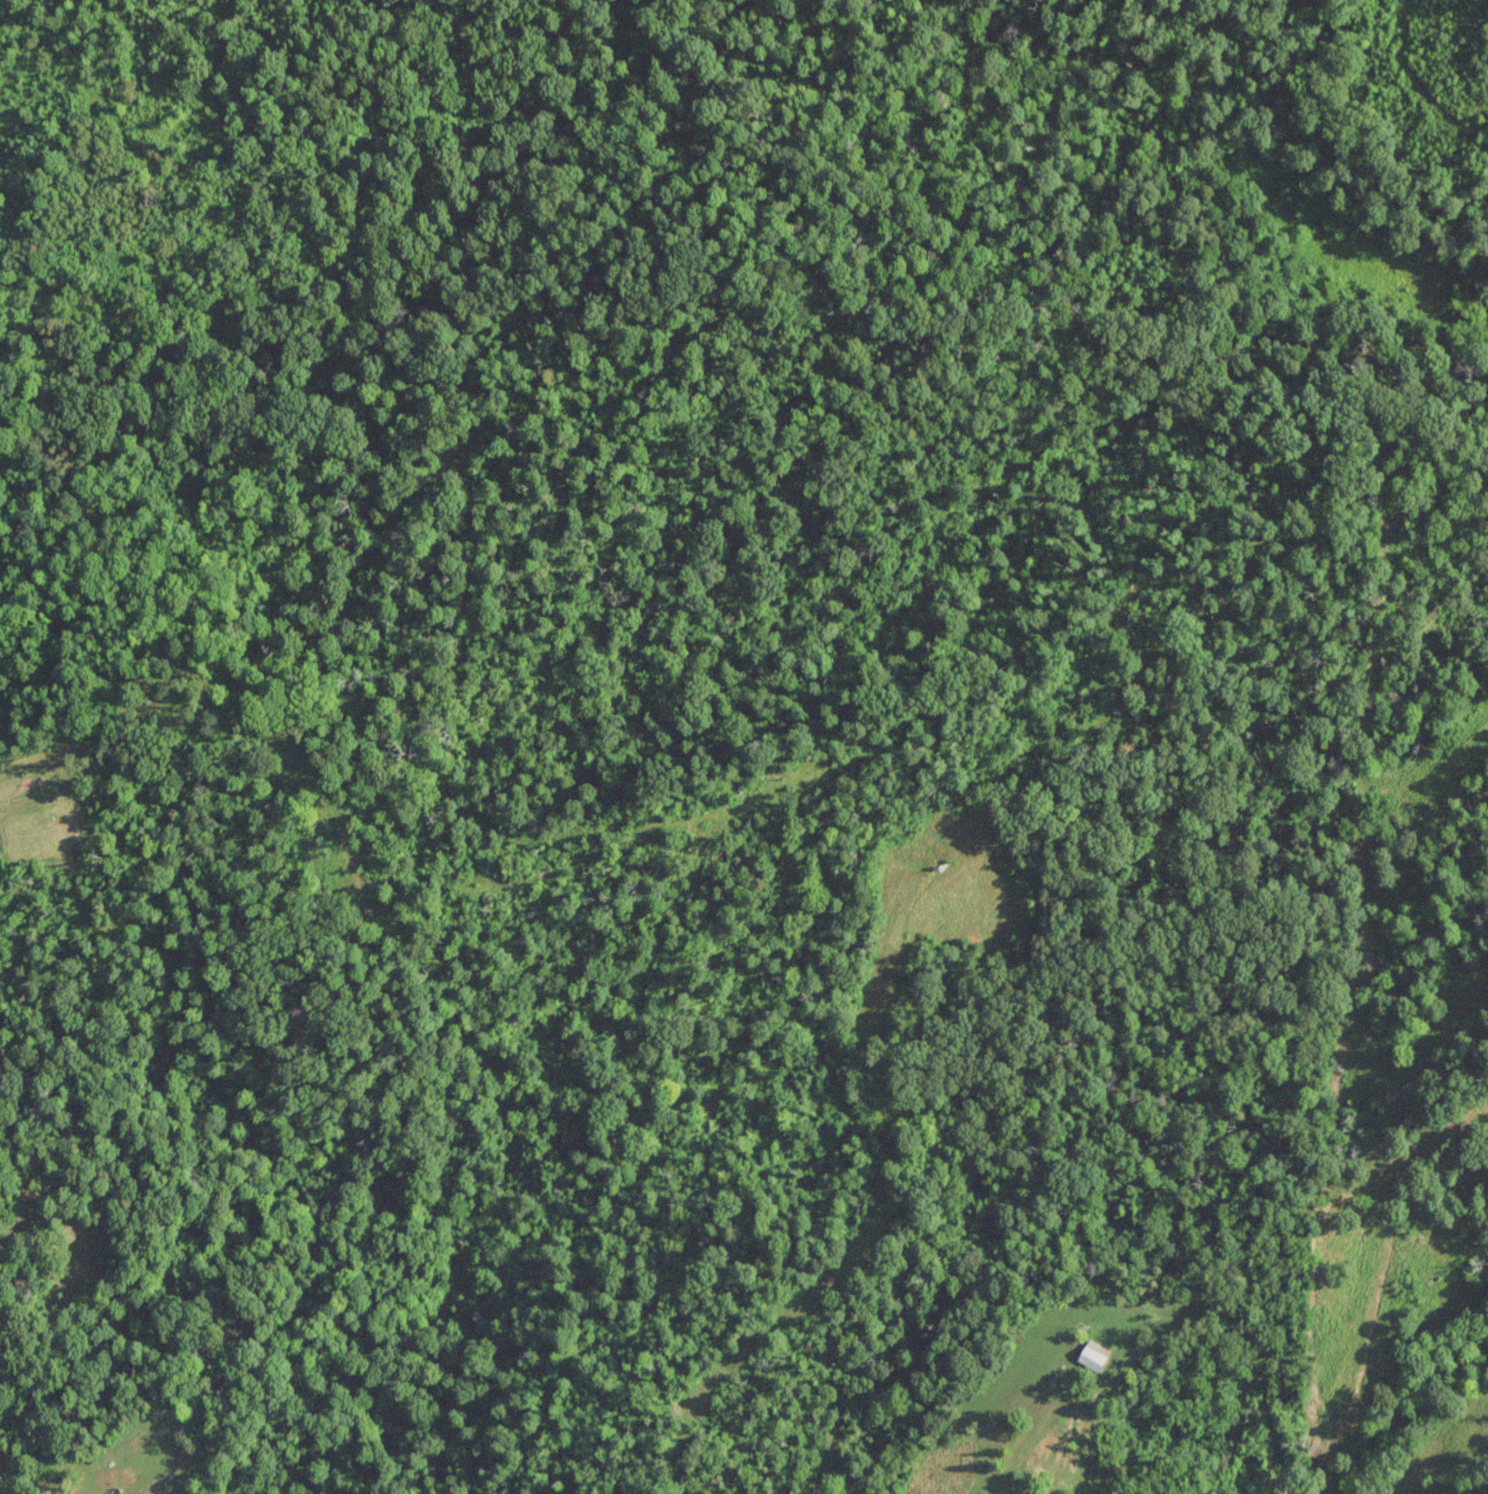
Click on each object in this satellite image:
building: (1091, 1354)
road: (1020, 1432)

